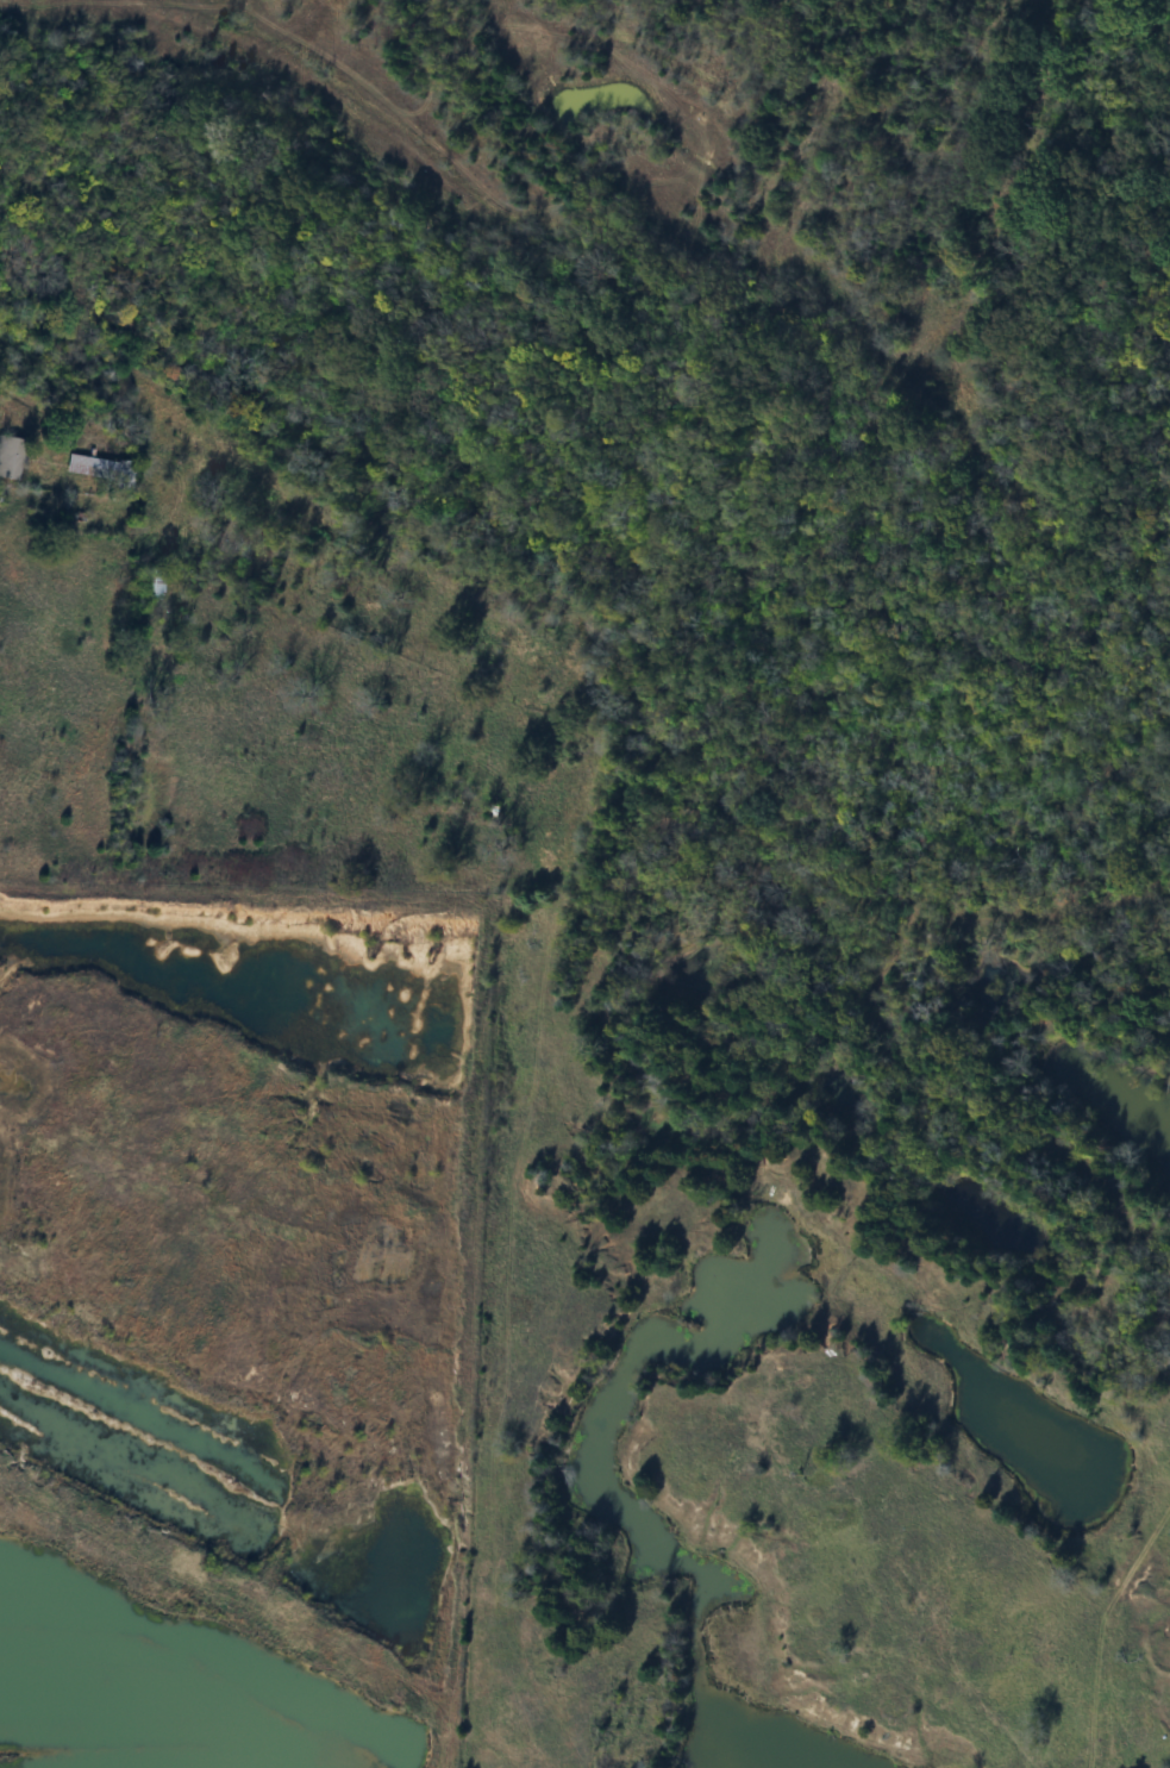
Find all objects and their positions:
building: (10, 458)
building: (88, 469)
building: (149, 589)

